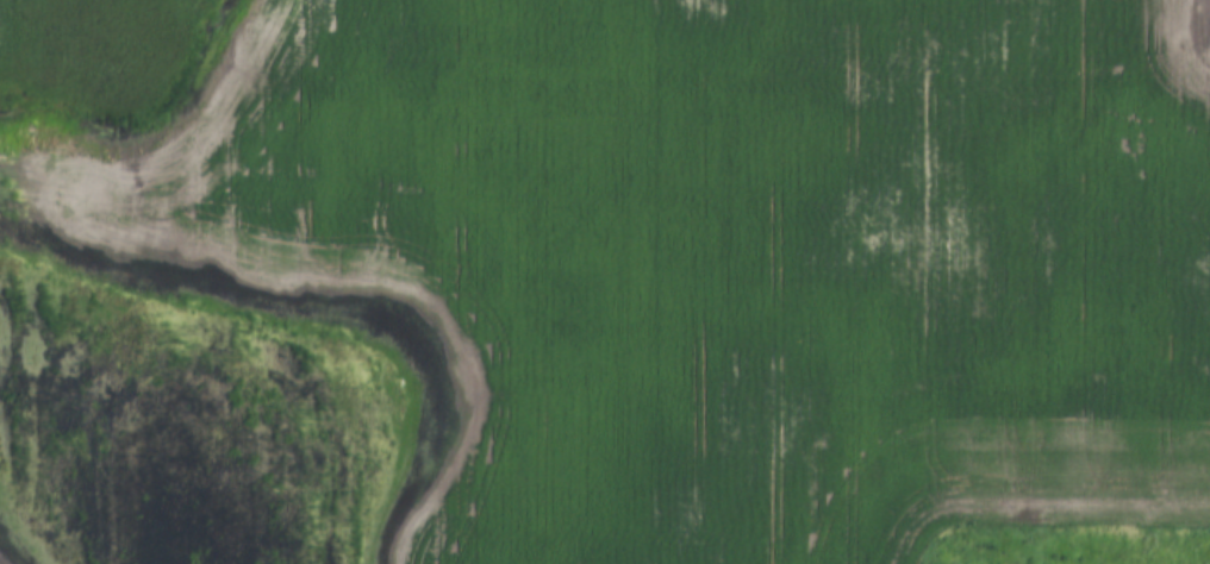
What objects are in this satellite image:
crop: (611, 283)

